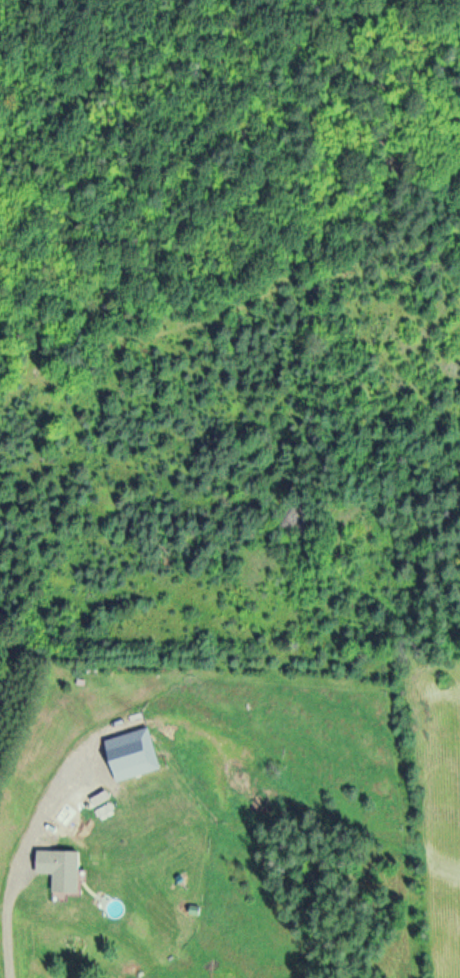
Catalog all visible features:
building: (131, 748)
road: (32, 839)
building: (59, 867)

